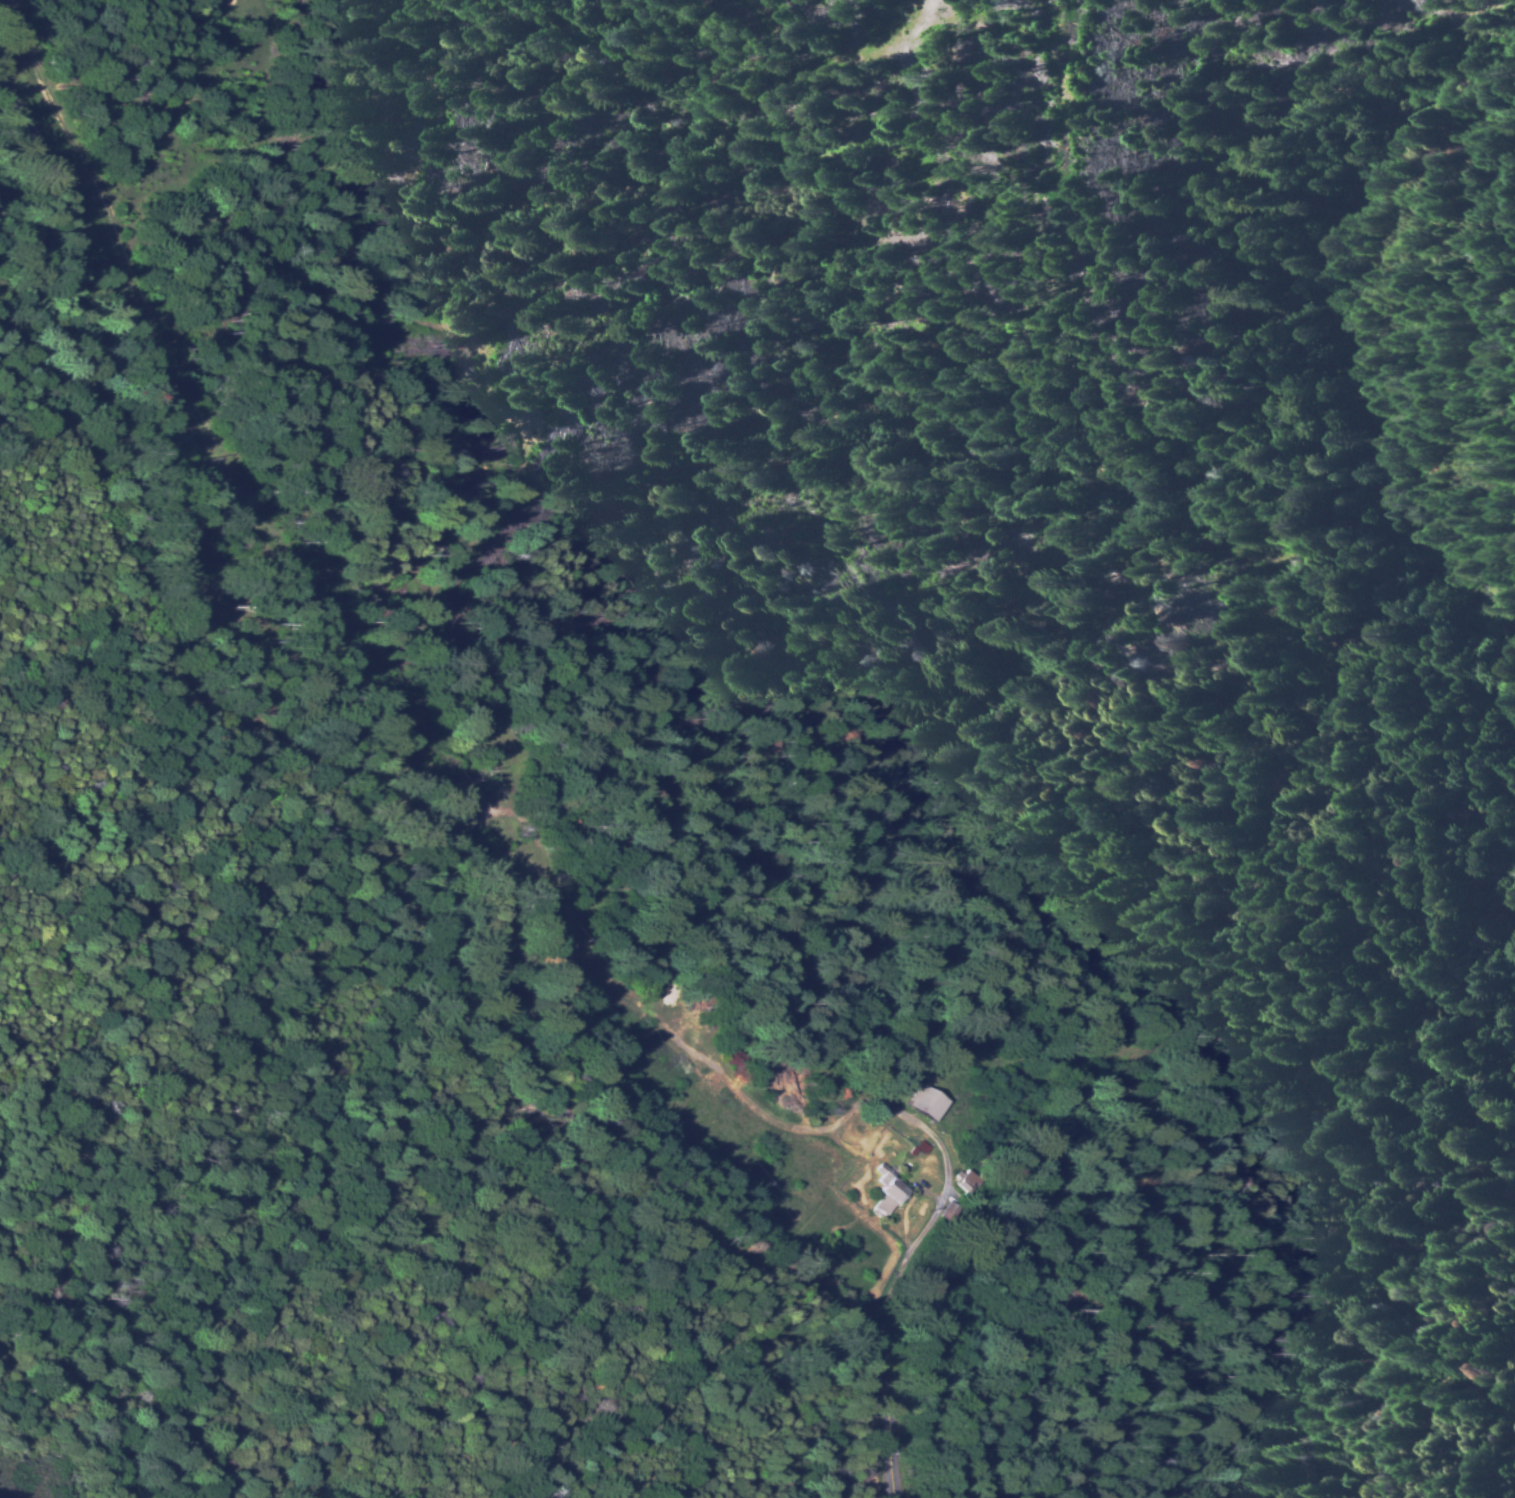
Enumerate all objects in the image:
road: (51, 354)
road: (419, 811)
building: (928, 1104)
building: (875, 1118)
building: (921, 1149)
building: (969, 1179)
building: (890, 1190)
building: (952, 1212)

